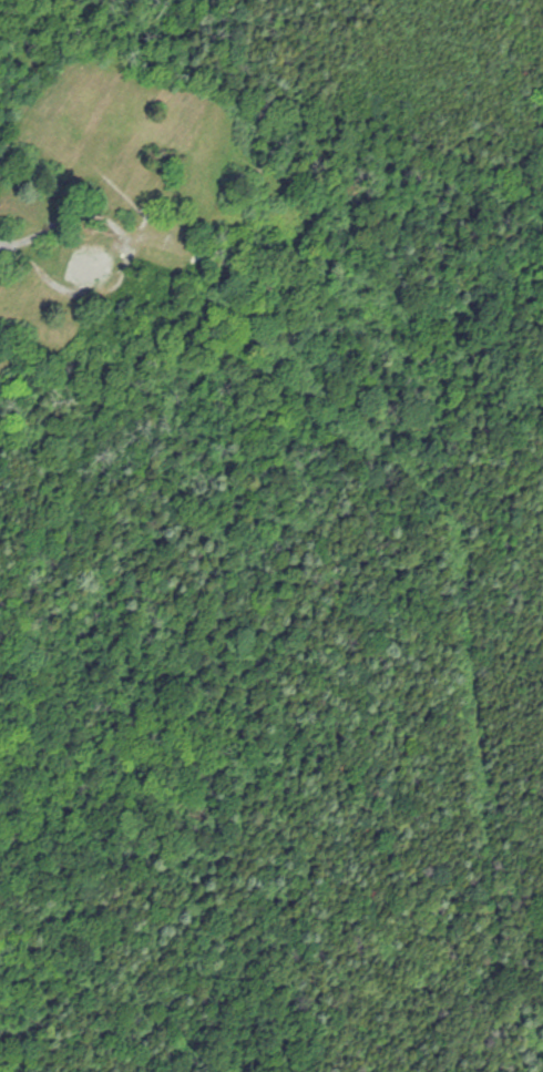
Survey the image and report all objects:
road: (13, 243)
building: (99, 264)

